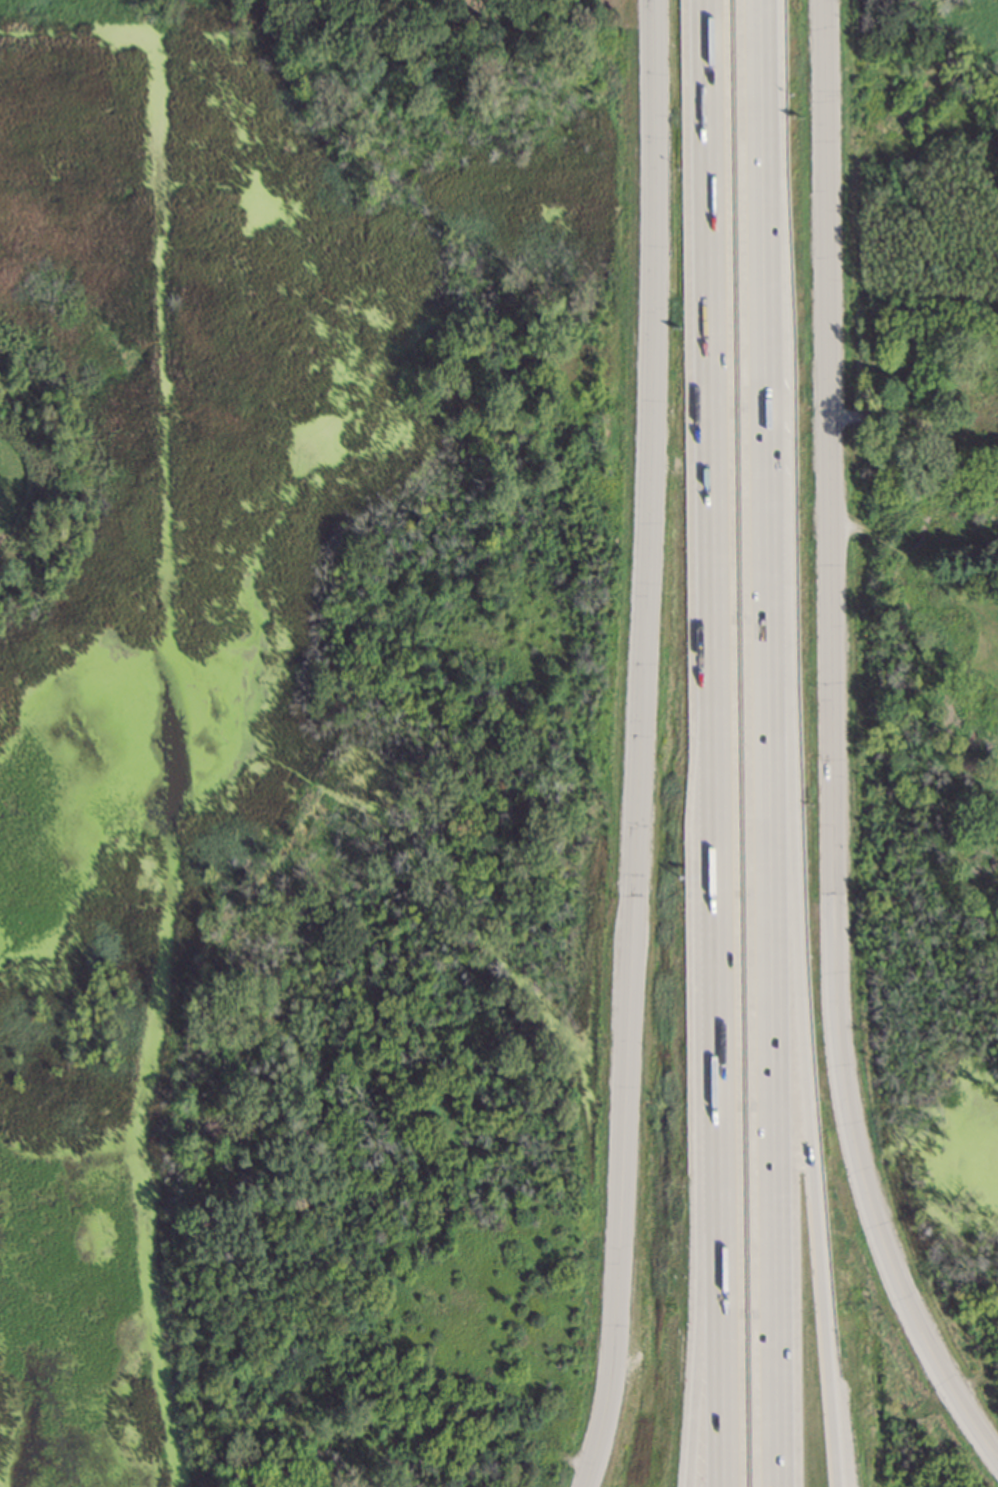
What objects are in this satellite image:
road: (712, 367)
building: (926, 426)
road: (830, 529)
building: (997, 600)
road: (772, 743)
road: (637, 745)
road: (718, 914)
road: (805, 1045)
road: (883, 1236)
road: (705, 1290)
road: (721, 1290)
road: (980, 1424)
road: (979, 1440)

